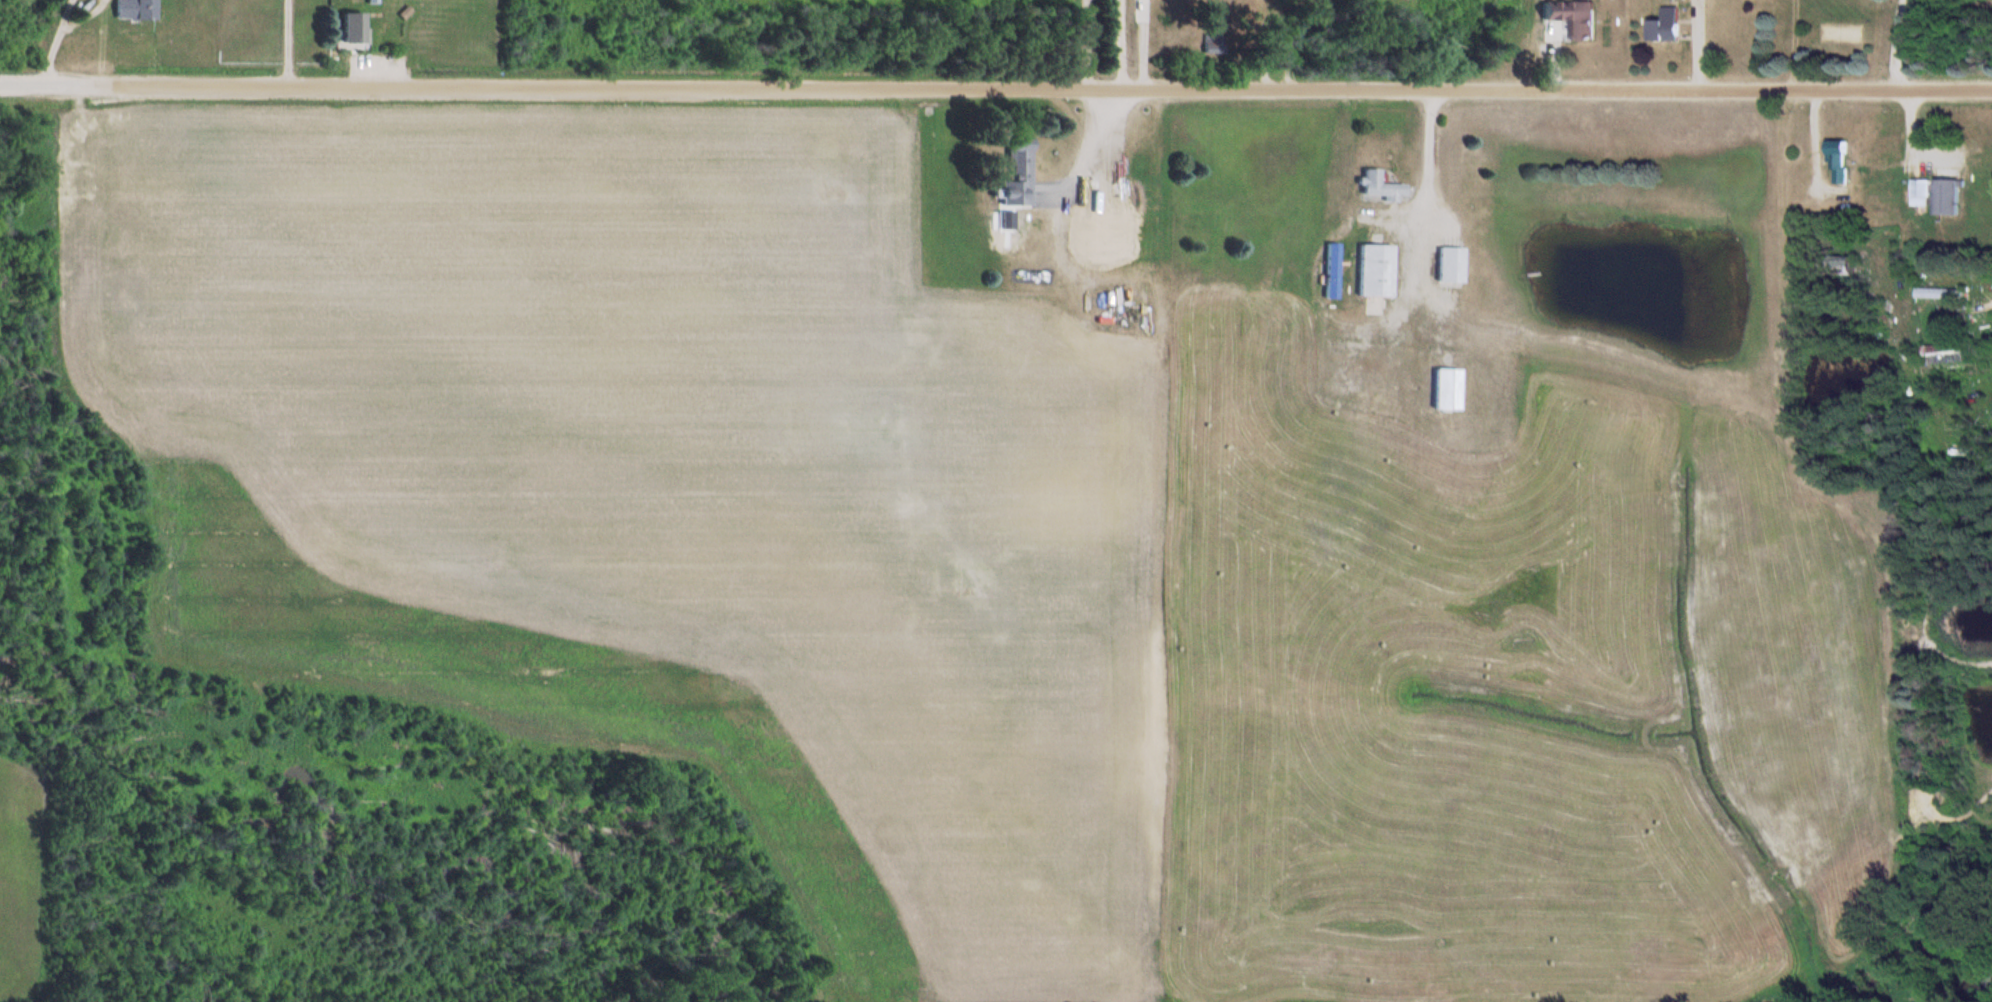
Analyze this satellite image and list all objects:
building: (137, 10)
building: (1575, 18)
building: (1668, 26)
building: (355, 29)
road: (1083, 43)
road: (1124, 44)
road: (1899, 45)
road: (996, 86)
road: (1090, 150)
building: (1020, 155)
building: (1841, 163)
building: (1384, 188)
building: (1014, 192)
building: (1922, 193)
building: (1951, 198)
building: (1103, 213)
building: (1453, 265)
building: (1378, 271)
building: (1961, 295)
building: (1450, 390)

